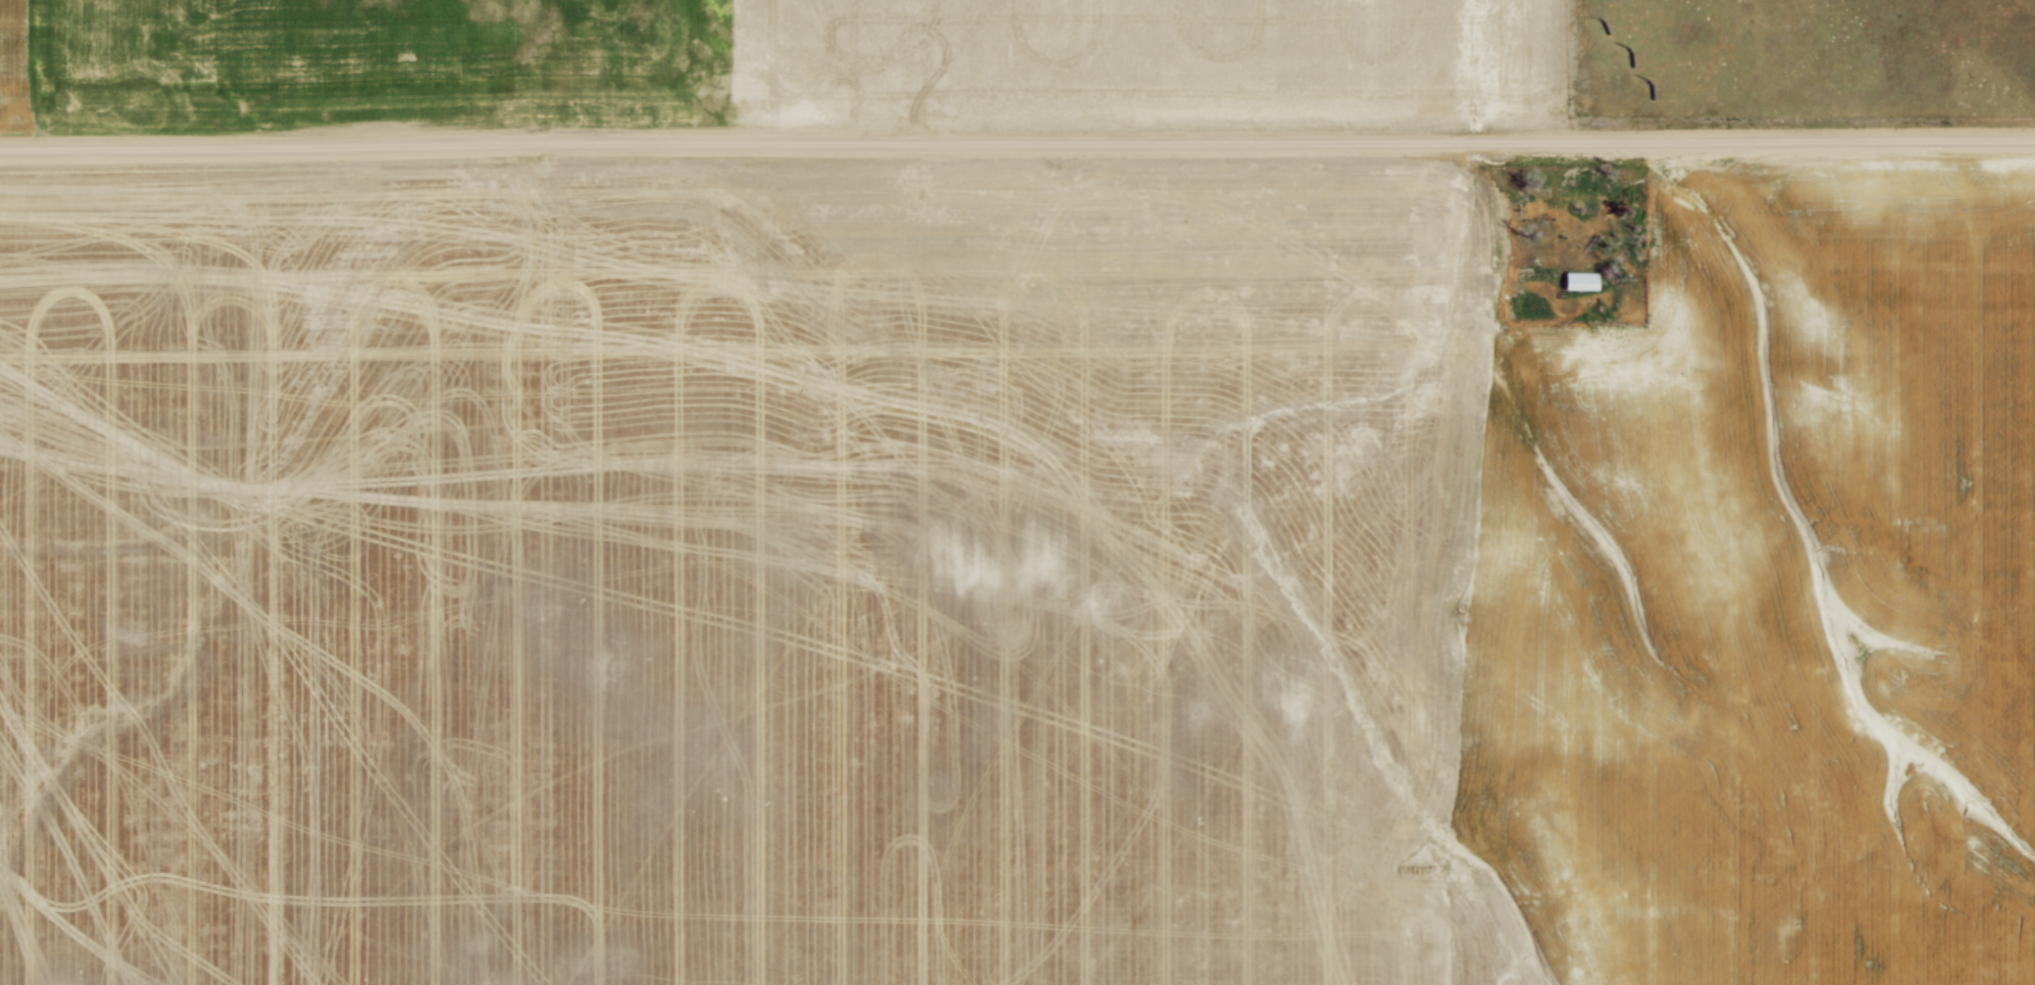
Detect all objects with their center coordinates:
crop: (774, 54)
road: (1017, 150)
building: (1571, 283)
crop: (1008, 579)

